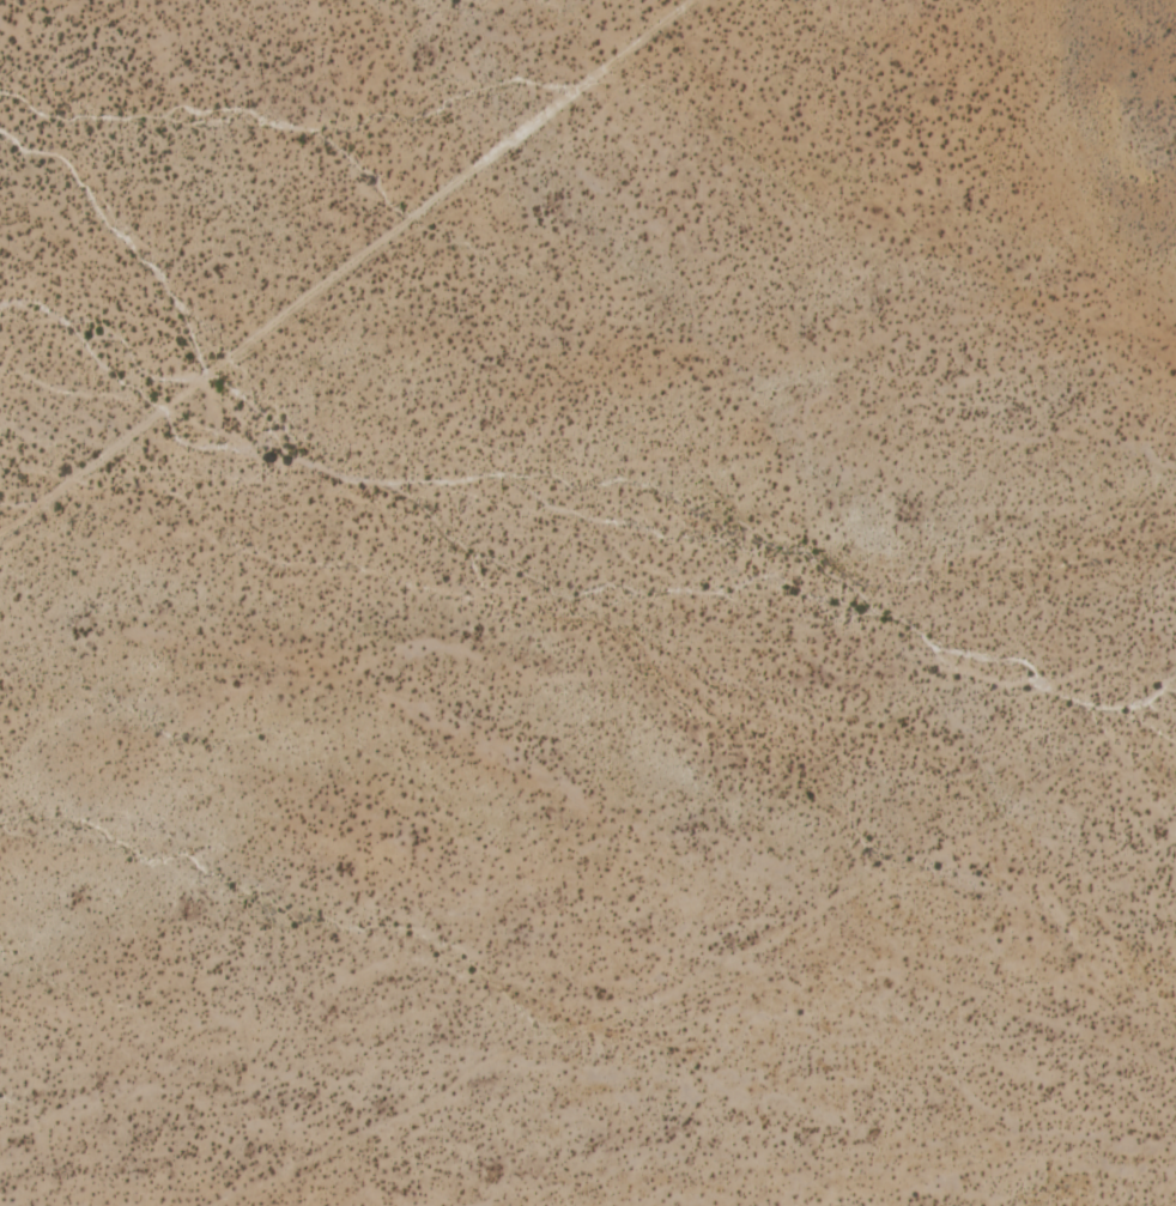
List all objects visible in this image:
road: (338, 234)

